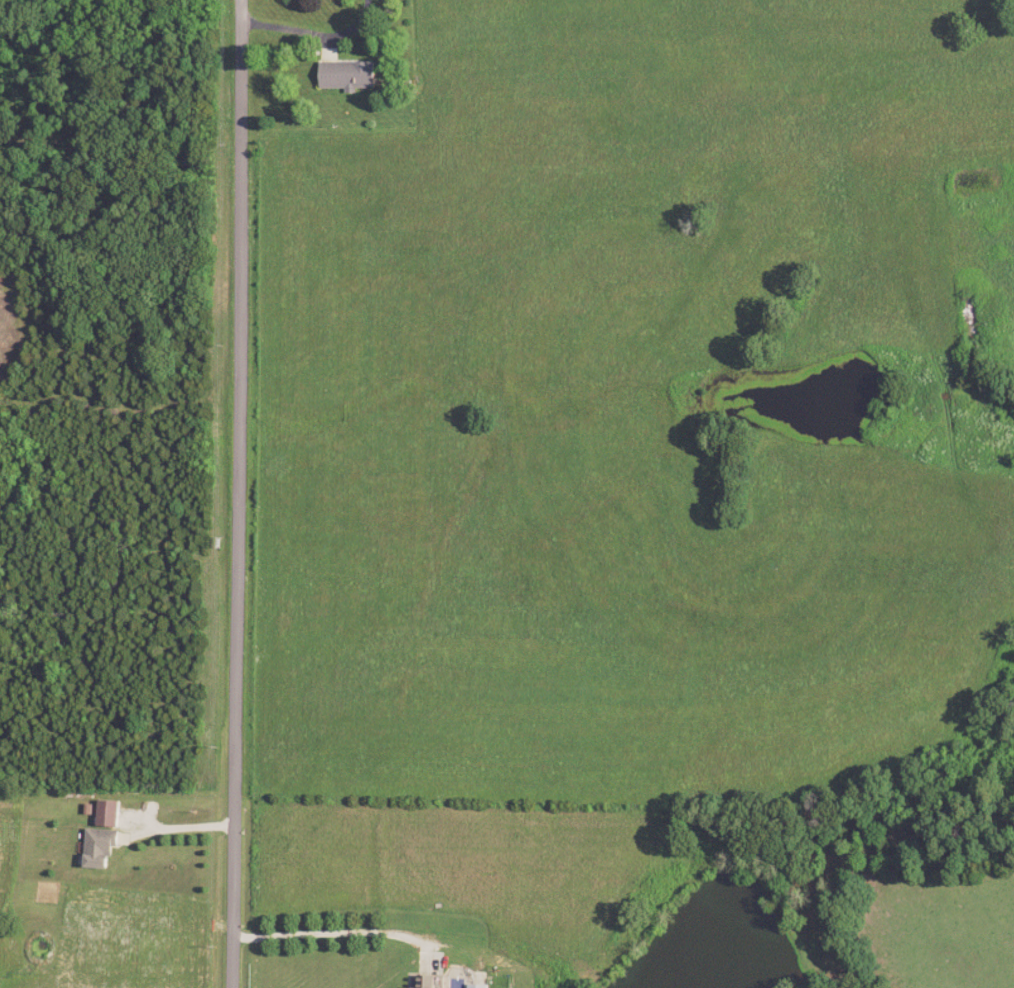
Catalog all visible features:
road: (313, 35)
building: (351, 77)
road: (236, 493)
building: (110, 814)
road: (180, 828)
building: (102, 848)
road: (351, 935)
building: (429, 981)
building: (480, 986)

